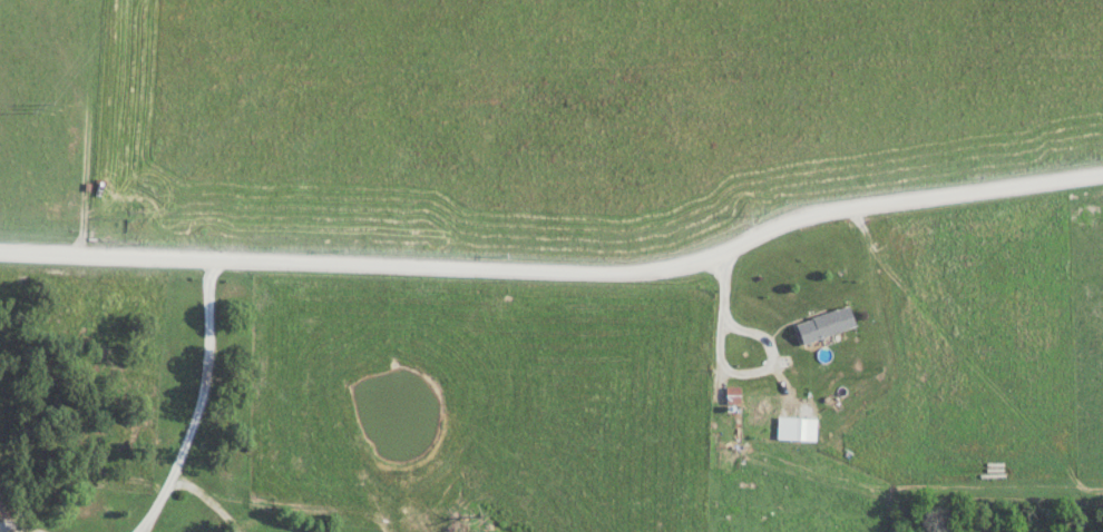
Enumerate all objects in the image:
road: (557, 274)
building: (824, 324)
road: (726, 374)
road: (203, 404)
building: (803, 428)

